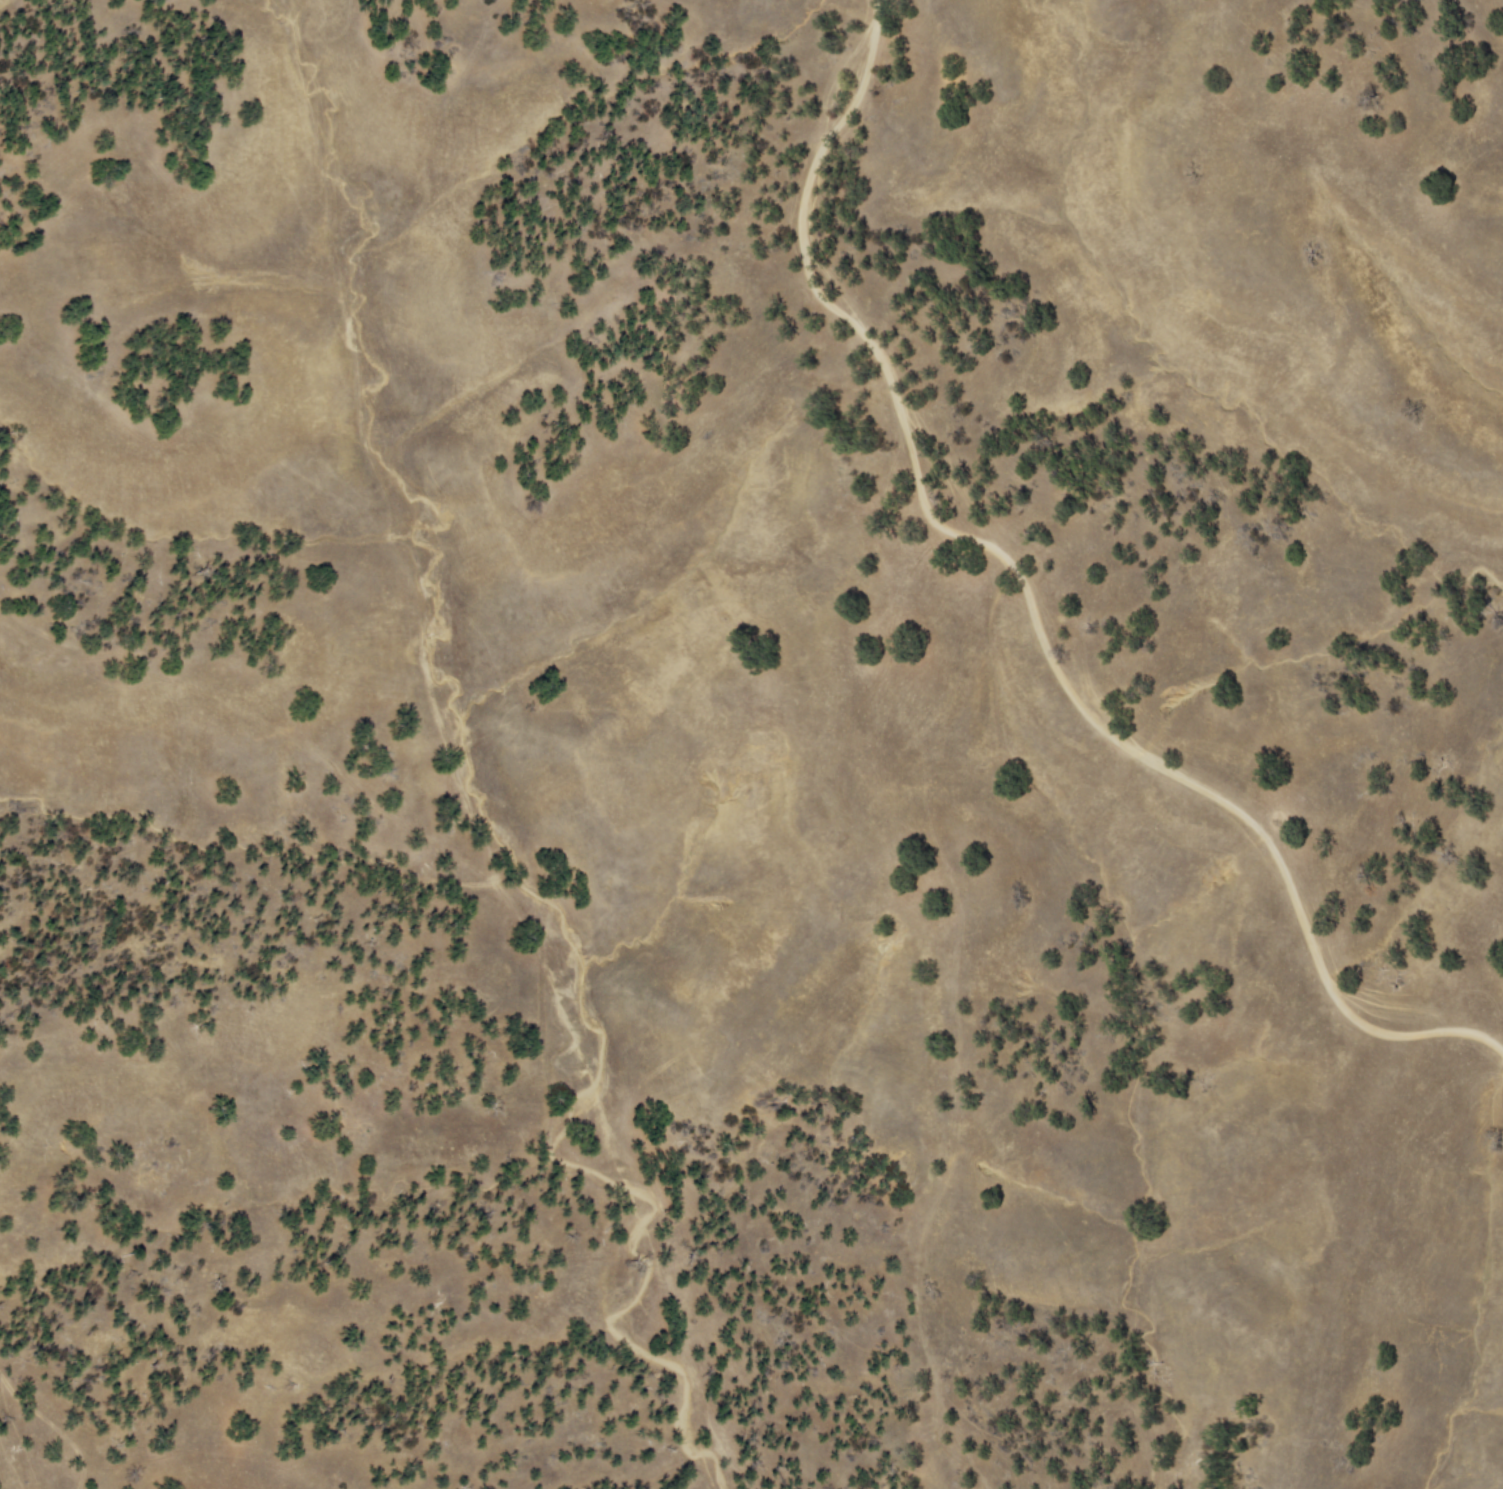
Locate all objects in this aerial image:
road: (1028, 602)

